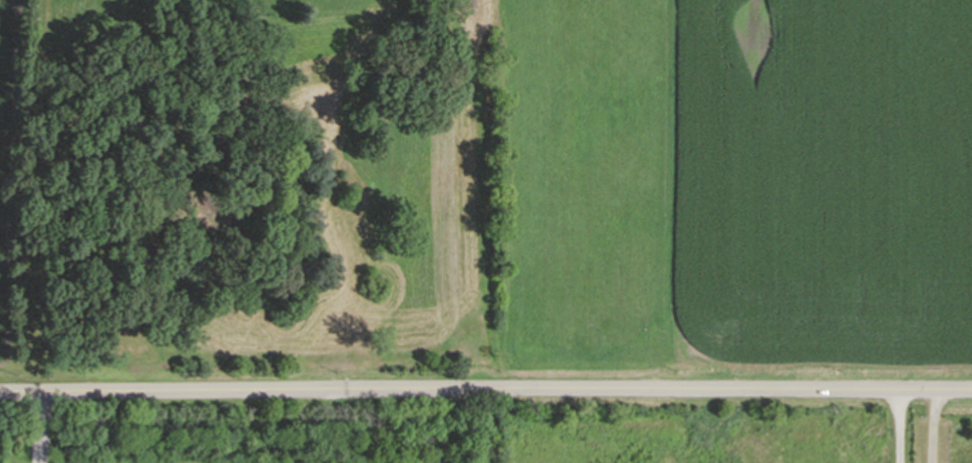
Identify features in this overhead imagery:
road: (485, 387)
road: (896, 424)
road: (932, 424)
road: (40, 427)

